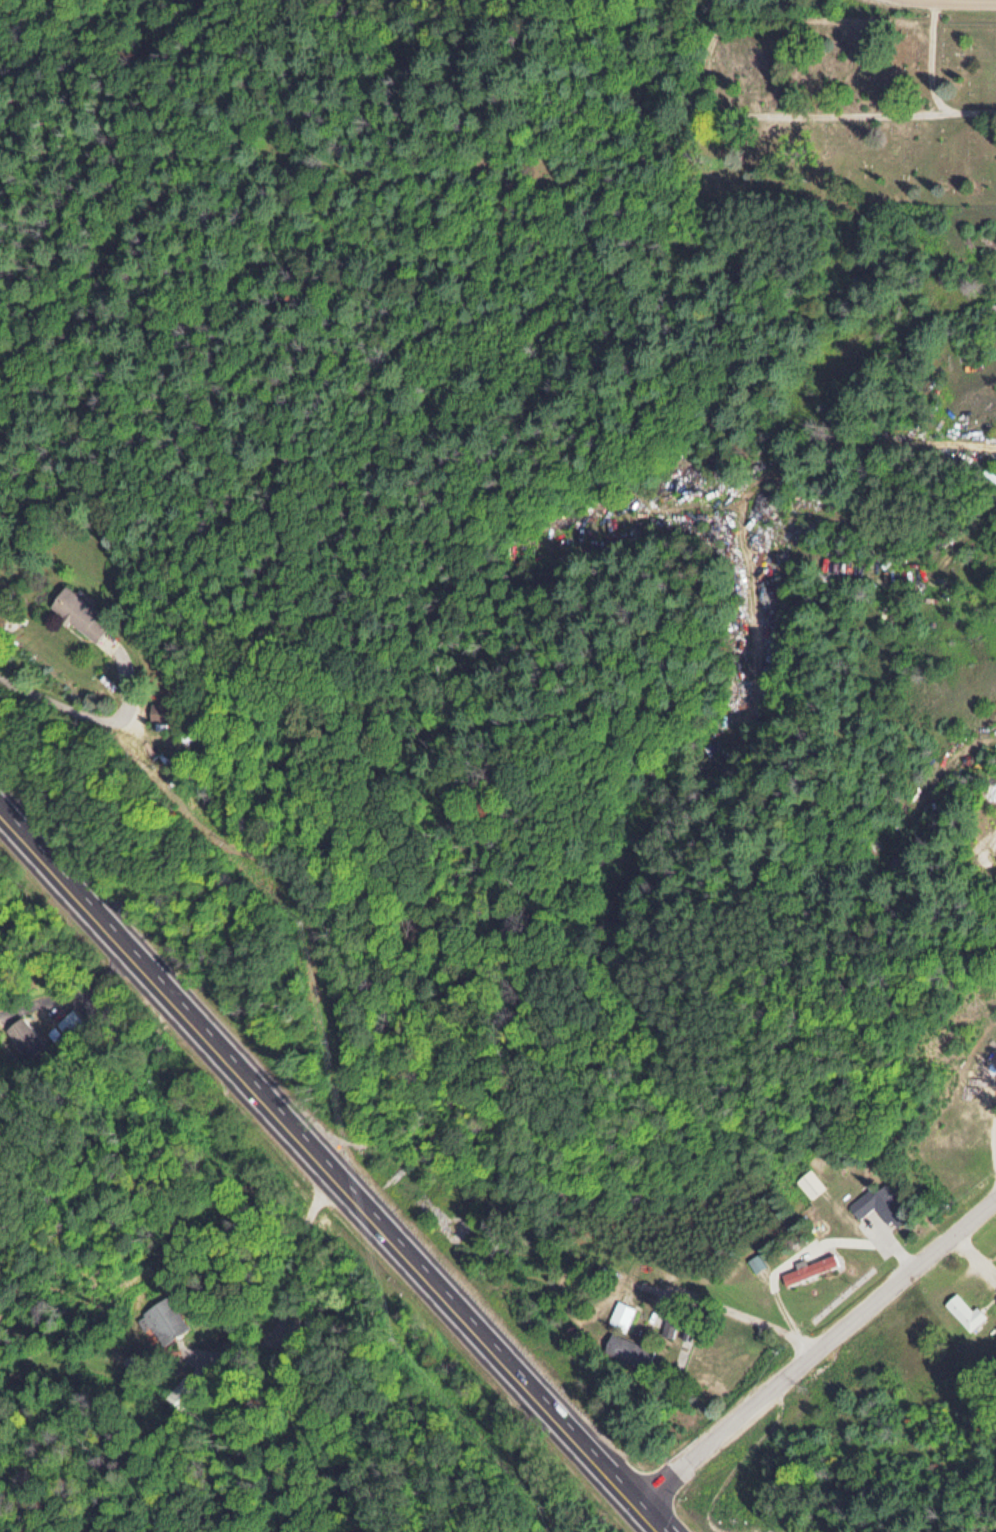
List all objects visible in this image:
road: (945, 1)
road: (936, 57)
park: (842, 109)
road: (859, 112)
building: (995, 271)
building: (79, 612)
building: (159, 712)
building: (993, 794)
building: (68, 1020)
building: (24, 1036)
road: (327, 1178)
building: (809, 1182)
building: (877, 1197)
building: (755, 1262)
building: (808, 1268)
building: (975, 1304)
building: (963, 1310)
building: (621, 1313)
building: (161, 1319)
building: (668, 1327)
building: (627, 1350)
road: (815, 1354)

